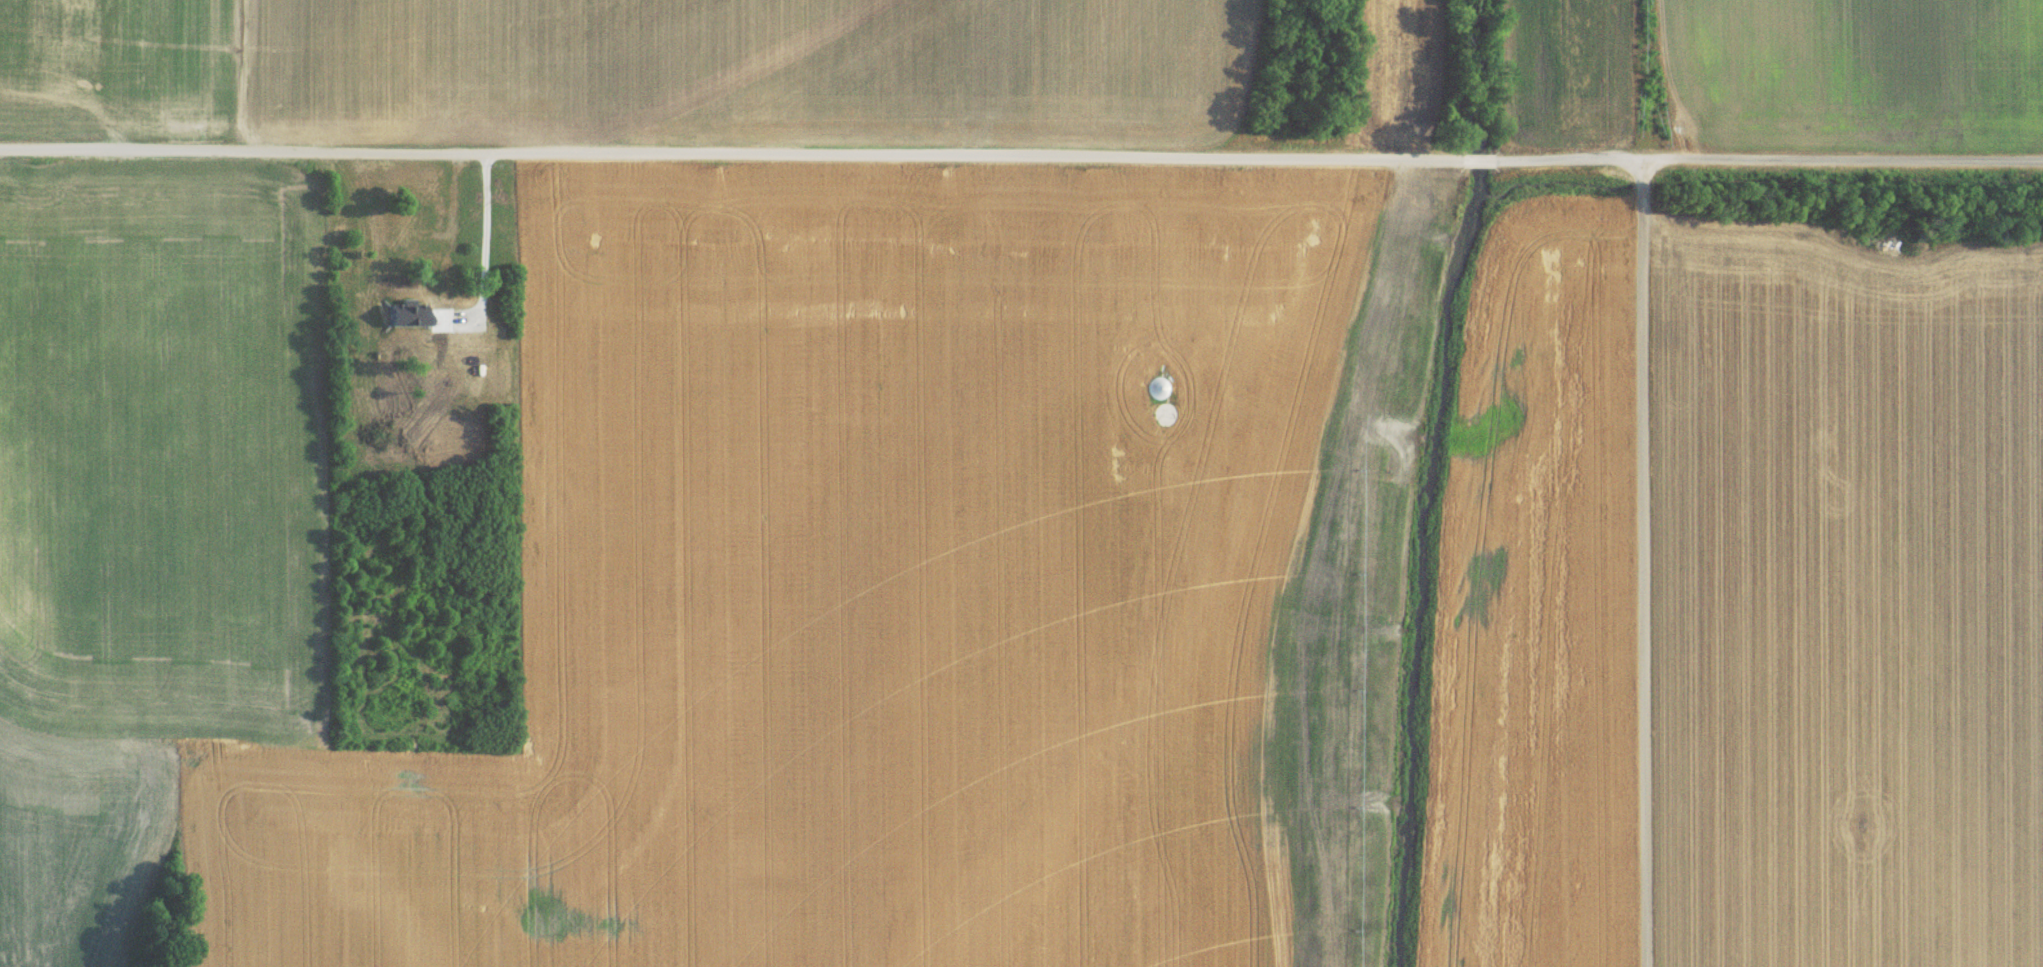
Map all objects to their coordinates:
road: (733, 159)
road: (1769, 166)
road: (1481, 167)
building: (415, 228)
building: (472, 358)
building: (1160, 394)
road: (1647, 567)

